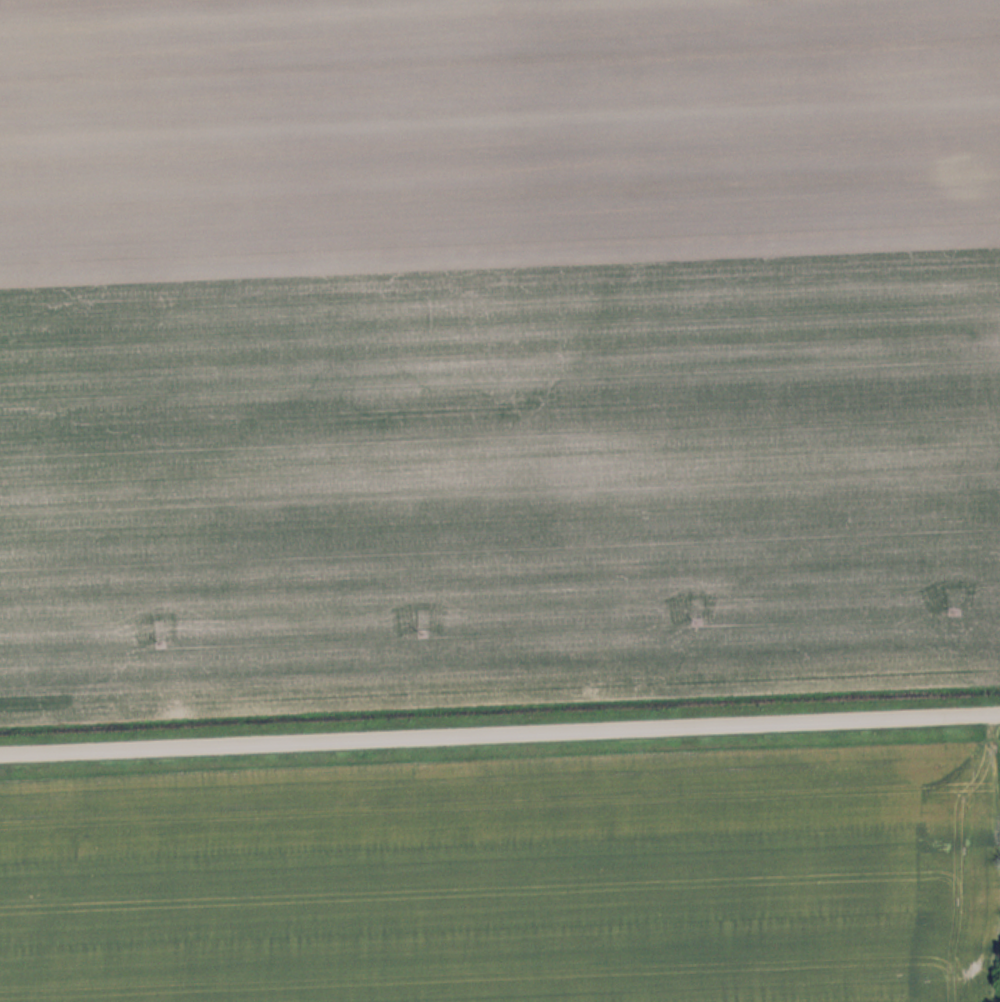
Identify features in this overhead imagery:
road: (500, 733)

